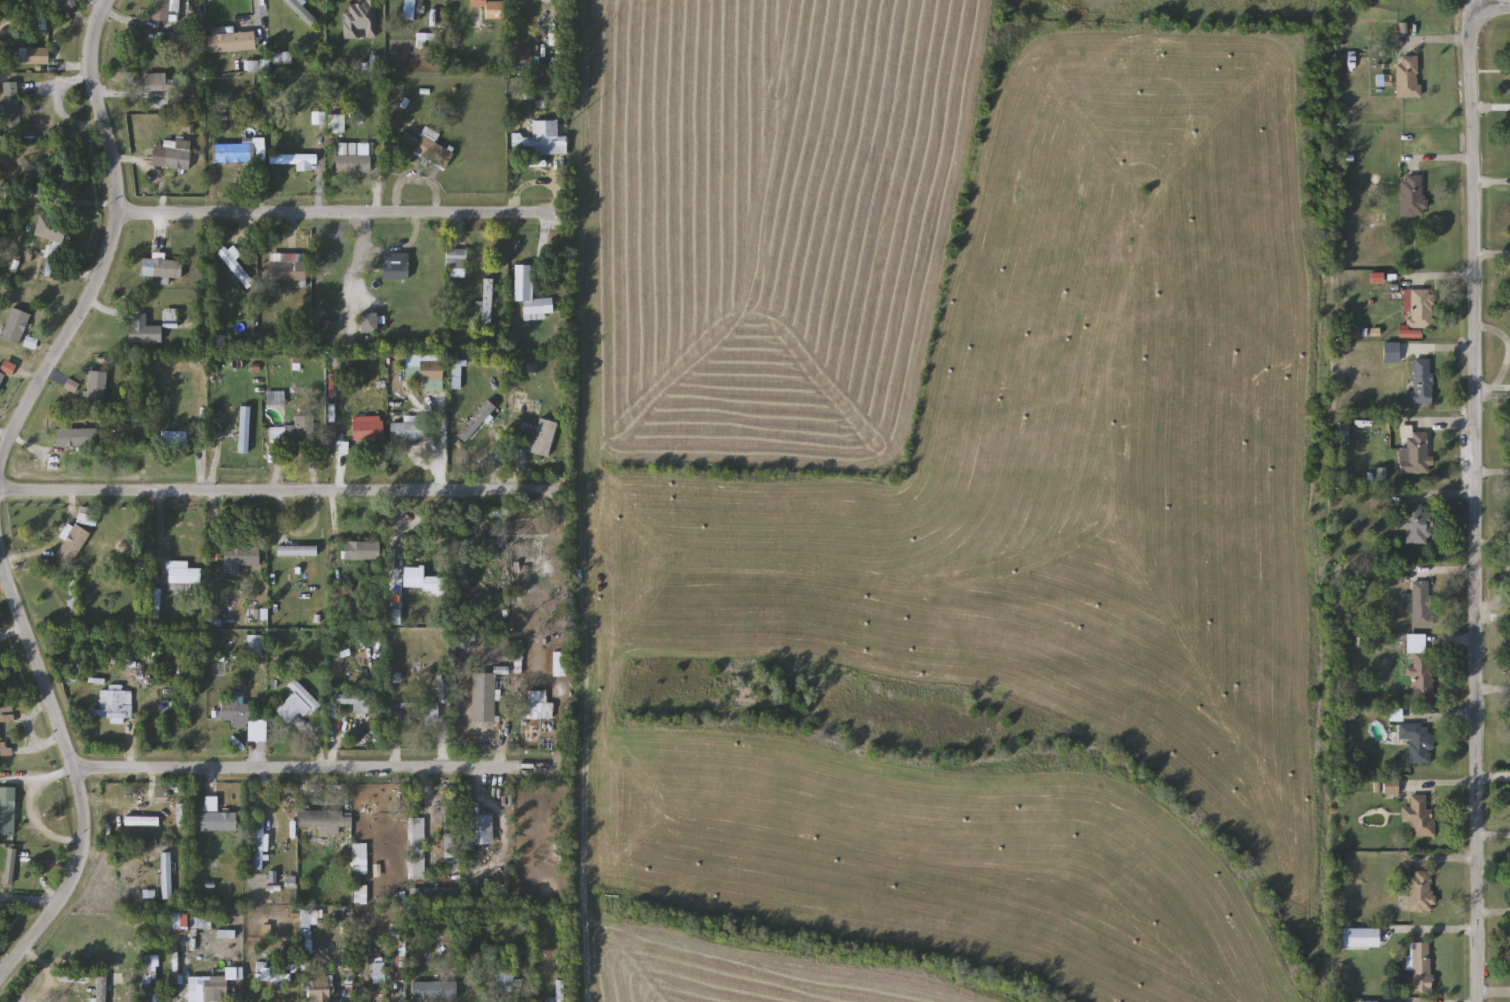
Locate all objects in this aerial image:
road: (500, 0)
road: (97, 2)
building: (70, 3)
road: (1482, 6)
road: (255, 7)
road: (1472, 8)
building: (466, 9)
building: (495, 9)
building: (161, 10)
building: (414, 10)
building: (301, 11)
road: (1492, 11)
building: (360, 20)
building: (232, 42)
road: (1437, 42)
building: (34, 56)
building: (1408, 77)
building: (154, 82)
building: (12, 106)
road: (1490, 110)
building: (546, 137)
building: (427, 147)
building: (238, 151)
road: (1437, 160)
road: (1491, 183)
building: (40, 184)
building: (1412, 196)
road: (340, 212)
road: (111, 237)
building: (55, 245)
road: (1492, 257)
building: (456, 262)
building: (162, 268)
building: (236, 268)
building: (396, 270)
road: (1438, 280)
building: (528, 294)
building: (488, 303)
building: (1421, 310)
building: (369, 323)
building: (15, 326)
building: (144, 333)
road: (1508, 350)
building: (1391, 352)
road: (1439, 352)
building: (432, 371)
building: (2, 378)
building: (1421, 383)
building: (97, 389)
road: (1492, 393)
building: (275, 398)
building: (476, 421)
road: (1441, 424)
building: (368, 430)
building: (409, 430)
building: (294, 431)
road: (6, 432)
building: (544, 437)
building: (78, 438)
building: (174, 439)
building: (1415, 454)
road: (1493, 474)
road: (282, 492)
road: (1437, 496)
road: (1476, 507)
building: (1416, 524)
road: (211, 536)
building: (74, 543)
building: (487, 543)
building: (530, 547)
building: (363, 550)
building: (298, 551)
building: (242, 558)
road: (1440, 572)
building: (182, 576)
building: (74, 594)
building: (342, 594)
building: (1419, 604)
road: (1493, 619)
road: (1456, 641)
building: (131, 652)
building: (1421, 667)
road: (1493, 691)
building: (484, 697)
building: (297, 703)
building: (351, 703)
building: (534, 705)
building: (114, 706)
building: (419, 711)
building: (242, 716)
road: (1450, 720)
building: (1414, 737)
building: (3, 747)
road: (72, 766)
road: (315, 769)
road: (1443, 785)
building: (1391, 786)
building: (211, 803)
building: (8, 810)
building: (182, 815)
building: (1419, 816)
building: (142, 821)
building: (219, 821)
building: (326, 821)
building: (381, 822)
building: (481, 830)
road: (1494, 838)
building: (259, 845)
road: (1448, 863)
building: (11, 867)
building: (167, 876)
building: (1421, 892)
road: (26, 901)
road: (1494, 918)
building: (307, 925)
road: (1451, 932)
building: (1422, 967)
road: (45, 972)
building: (270, 974)
building: (149, 975)
building: (502, 979)
building: (321, 988)
building: (212, 989)
building: (434, 990)
building: (101, 992)
building: (559, 993)
road: (229, 995)
road: (177, 998)

